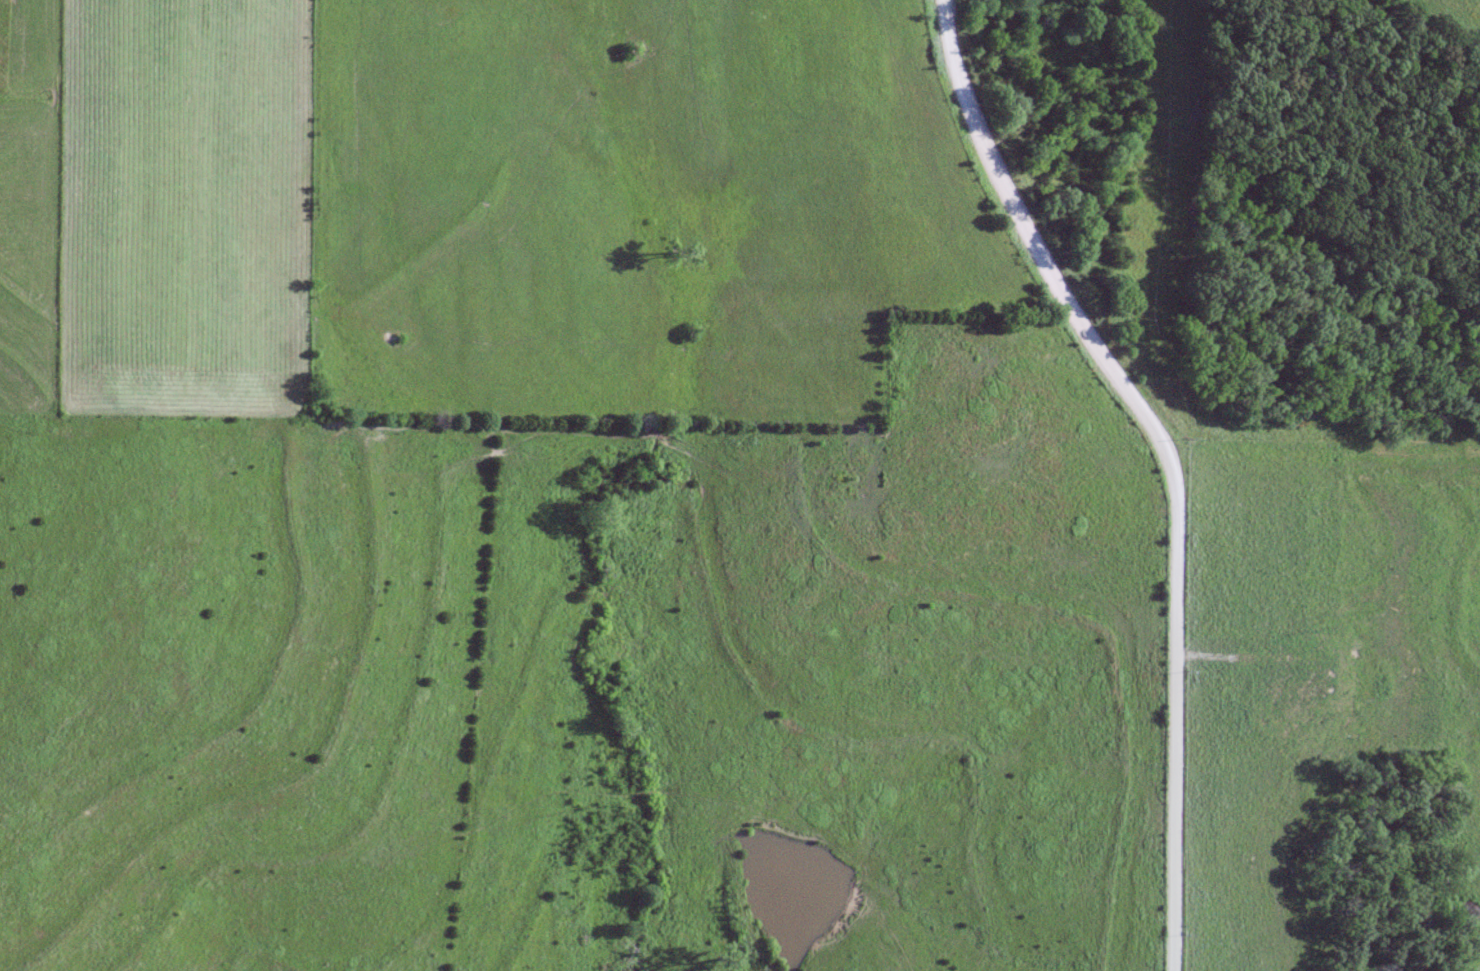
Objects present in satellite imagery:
road: (1162, 458)

